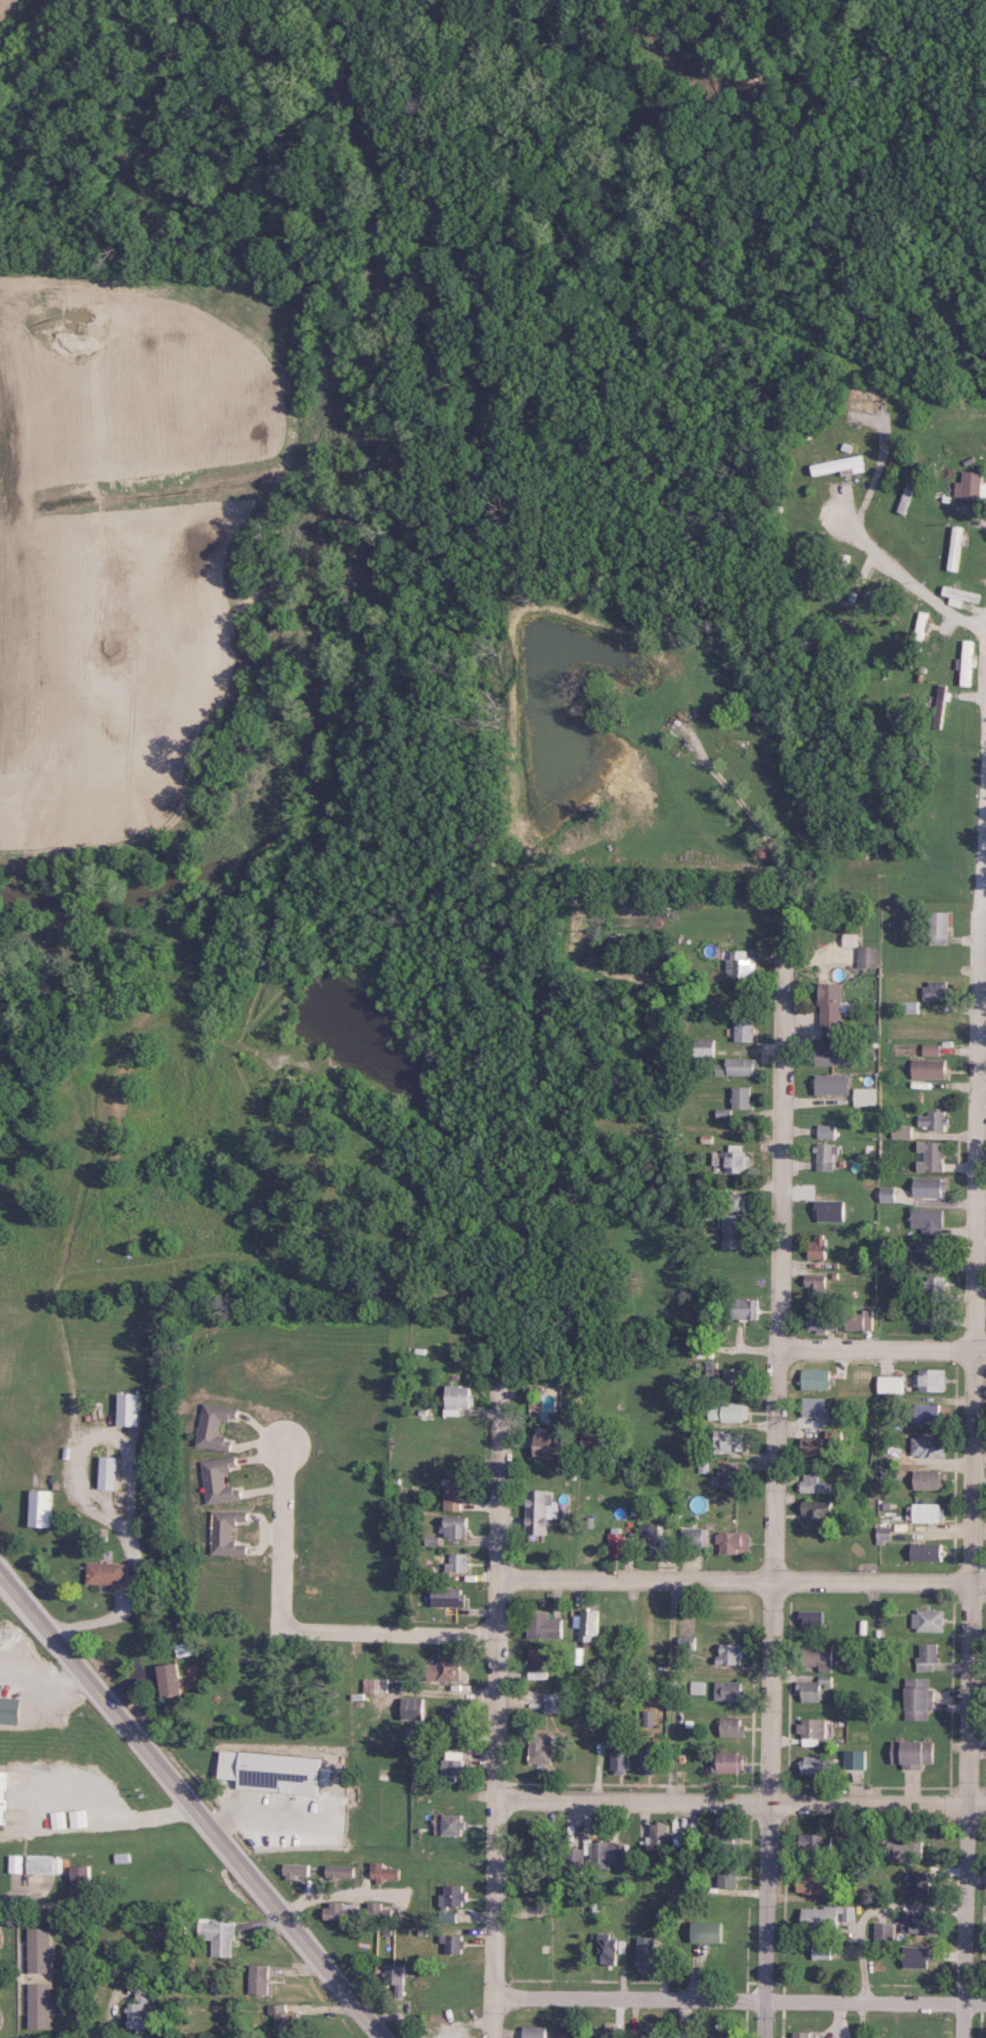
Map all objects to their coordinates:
building: (842, 466)
building: (970, 486)
building: (957, 548)
road: (900, 574)
building: (961, 596)
building: (922, 618)
building: (968, 663)
building: (941, 697)
building: (934, 927)
building: (869, 956)
building: (742, 965)
building: (933, 989)
building: (833, 1005)
building: (908, 1006)
building: (746, 1030)
building: (928, 1049)
building: (837, 1056)
building: (740, 1067)
building: (925, 1067)
building: (834, 1084)
road: (982, 1091)
building: (867, 1096)
building: (743, 1097)
building: (930, 1120)
building: (829, 1131)
building: (901, 1131)
building: (927, 1156)
building: (826, 1157)
building: (930, 1186)
building: (889, 1194)
building: (736, 1201)
building: (832, 1210)
building: (930, 1220)
building: (734, 1231)
building: (820, 1248)
building: (928, 1251)
building: (818, 1285)
building: (937, 1288)
road: (782, 1294)
building: (746, 1308)
building: (934, 1316)
building: (860, 1319)
building: (821, 1320)
road: (883, 1350)
building: (734, 1377)
building: (818, 1378)
building: (932, 1379)
building: (893, 1384)
road: (975, 1385)
building: (460, 1399)
building: (816, 1406)
building: (128, 1408)
building: (730, 1411)
building: (928, 1413)
building: (217, 1426)
road: (96, 1439)
building: (729, 1440)
building: (822, 1444)
building: (554, 1445)
building: (929, 1446)
building: (109, 1472)
building: (731, 1477)
building: (930, 1479)
building: (222, 1480)
building: (814, 1484)
building: (459, 1490)
building: (44, 1507)
building: (542, 1510)
building: (818, 1511)
building: (925, 1512)
building: (456, 1527)
building: (229, 1532)
building: (651, 1533)
building: (693, 1536)
road: (279, 1537)
building: (735, 1540)
building: (620, 1543)
building: (927, 1551)
building: (460, 1562)
building: (107, 1573)
road: (742, 1582)
building: (451, 1596)
road: (122, 1611)
building: (814, 1619)
building: (928, 1620)
building: (587, 1624)
building: (546, 1625)
road: (390, 1634)
building: (688, 1643)
building: (731, 1653)
building: (927, 1657)
building: (540, 1661)
building: (447, 1668)
building: (171, 1679)
building: (376, 1684)
building: (699, 1688)
building: (815, 1689)
building: (731, 1690)
building: (921, 1698)
building: (554, 1702)
building: (414, 1707)
building: (10, 1709)
road: (497, 1711)
building: (454, 1716)
building: (735, 1727)
building: (813, 1730)
building: (542, 1748)
building: (916, 1753)
building: (856, 1759)
building: (621, 1761)
building: (650, 1761)
building: (730, 1762)
building: (816, 1764)
building: (275, 1771)
building: (4, 1796)
road: (741, 1799)
road: (190, 1807)
building: (79, 1818)
building: (59, 1819)
building: (454, 1824)
building: (659, 1833)
building: (544, 1840)
building: (724, 1840)
building: (817, 1842)
building: (909, 1849)
building: (610, 1853)
building: (18, 1863)
building: (46, 1864)
building: (296, 1870)
building: (340, 1871)
building: (385, 1872)
building: (728, 1875)
building: (82, 1882)
building: (812, 1882)
building: (921, 1884)
building: (454, 1896)
road: (18, 1900)
road: (383, 1900)
building: (340, 1910)
building: (373, 1911)
building: (828, 1917)
building: (920, 1922)
building: (886, 1931)
building: (710, 1932)
building: (219, 1936)
building: (1, 1937)
building: (453, 1943)
building: (40, 1949)
building: (608, 1949)
building: (823, 1951)
building: (647, 1954)
building: (917, 1956)
building: (397, 1977)
building: (260, 1978)
road: (738, 2000)
building: (39, 2005)
building: (143, 2010)
road: (109, 2015)
building: (279, 2017)
building: (1, 2019)
building: (534, 2032)
building: (565, 2032)
building: (647, 2033)
building: (722, 2033)
building: (681, 2034)
building: (801, 2034)
building: (893, 2037)

